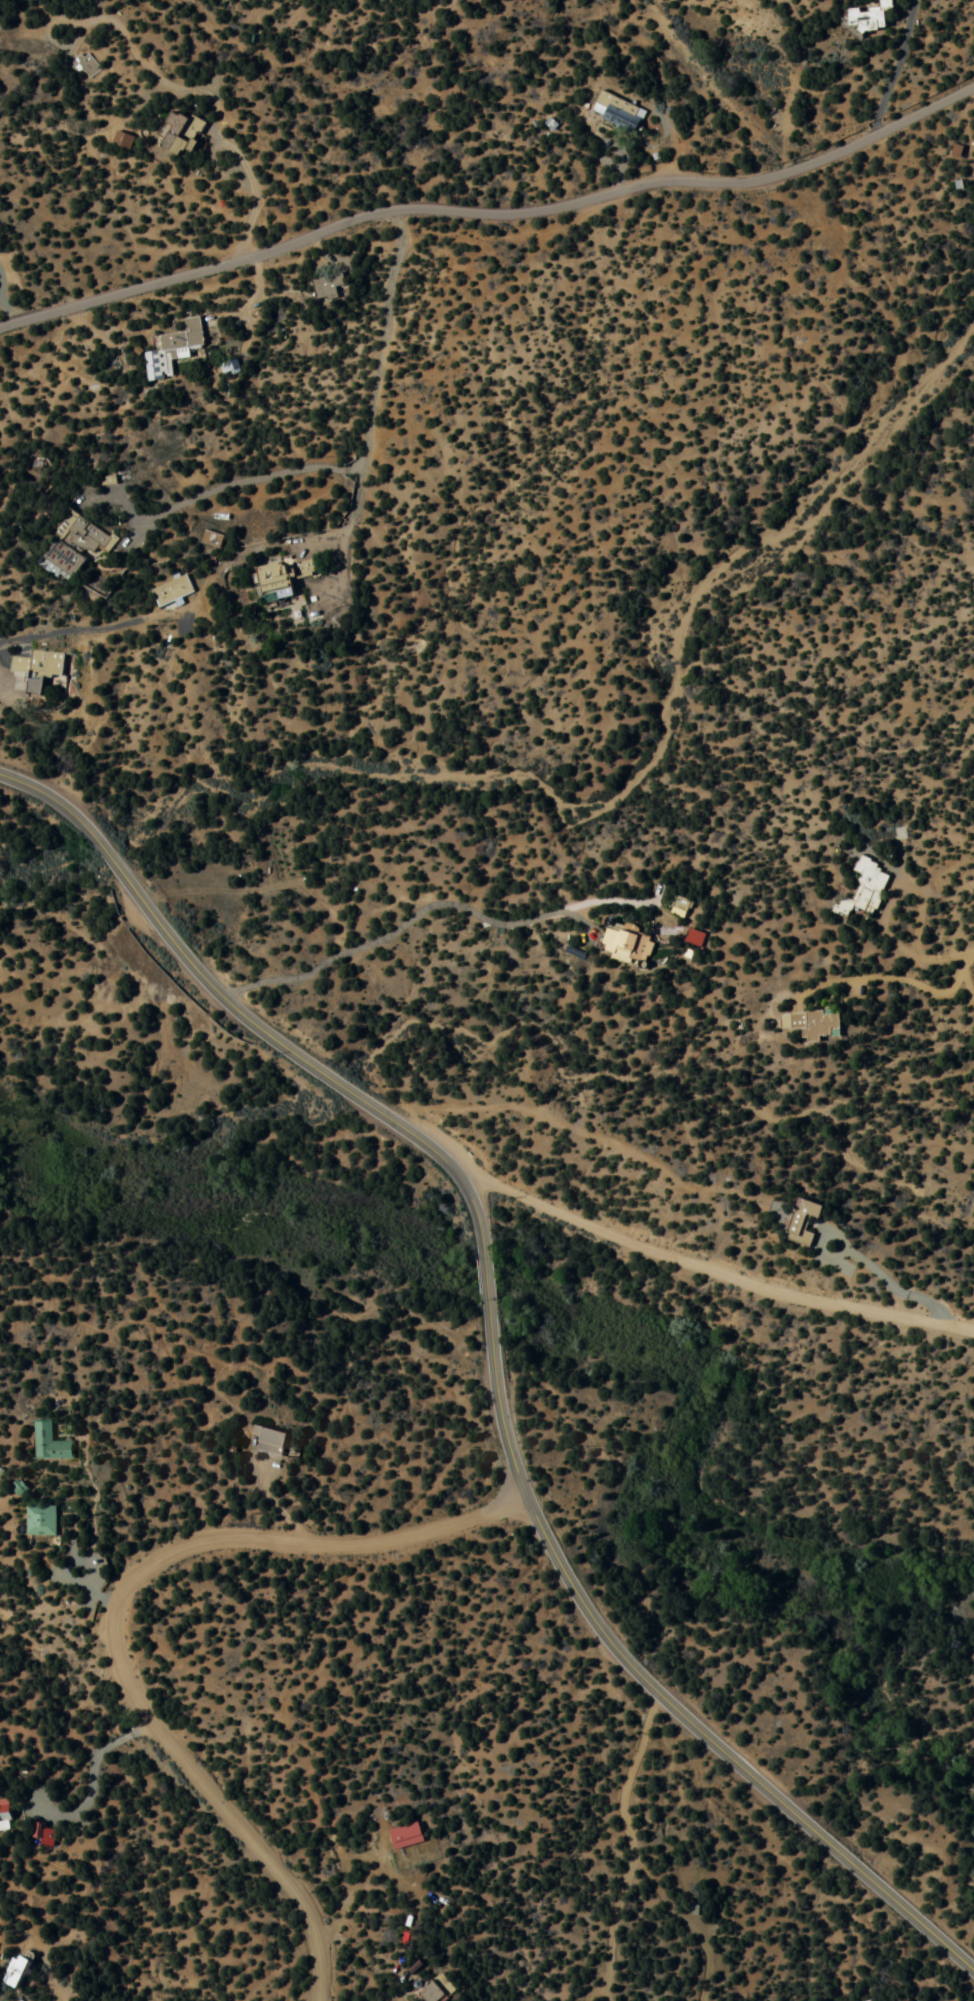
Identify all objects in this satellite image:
building: (867, 16)
building: (617, 112)
building: (187, 127)
building: (132, 134)
road: (490, 212)
building: (211, 539)
road: (327, 539)
building: (80, 540)
building: (279, 578)
building: (174, 589)
building: (39, 667)
building: (861, 888)
building: (678, 905)
road: (414, 913)
building: (621, 942)
road: (248, 1014)
building: (808, 1022)
building: (798, 1221)
road: (713, 1272)
road: (485, 1288)
building: (275, 1440)
building: (51, 1442)
building: (43, 1519)
road: (117, 1614)
road: (656, 1694)
building: (6, 1813)
building: (404, 1836)
road: (629, 1847)
building: (21, 1968)
building: (435, 1989)

